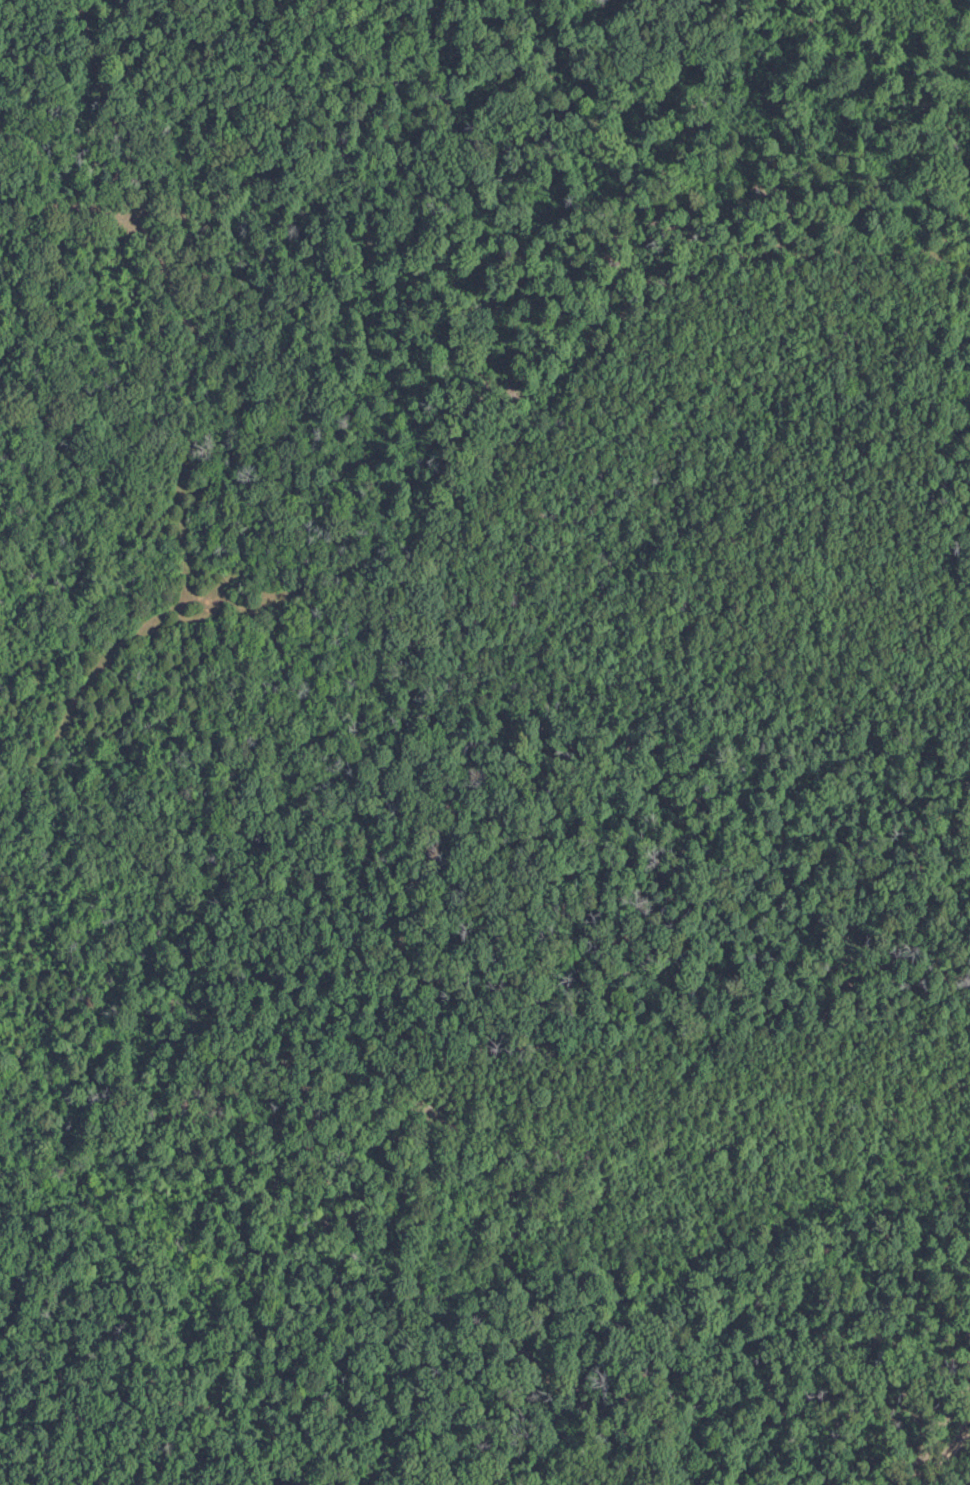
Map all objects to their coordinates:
road: (941, 1452)

